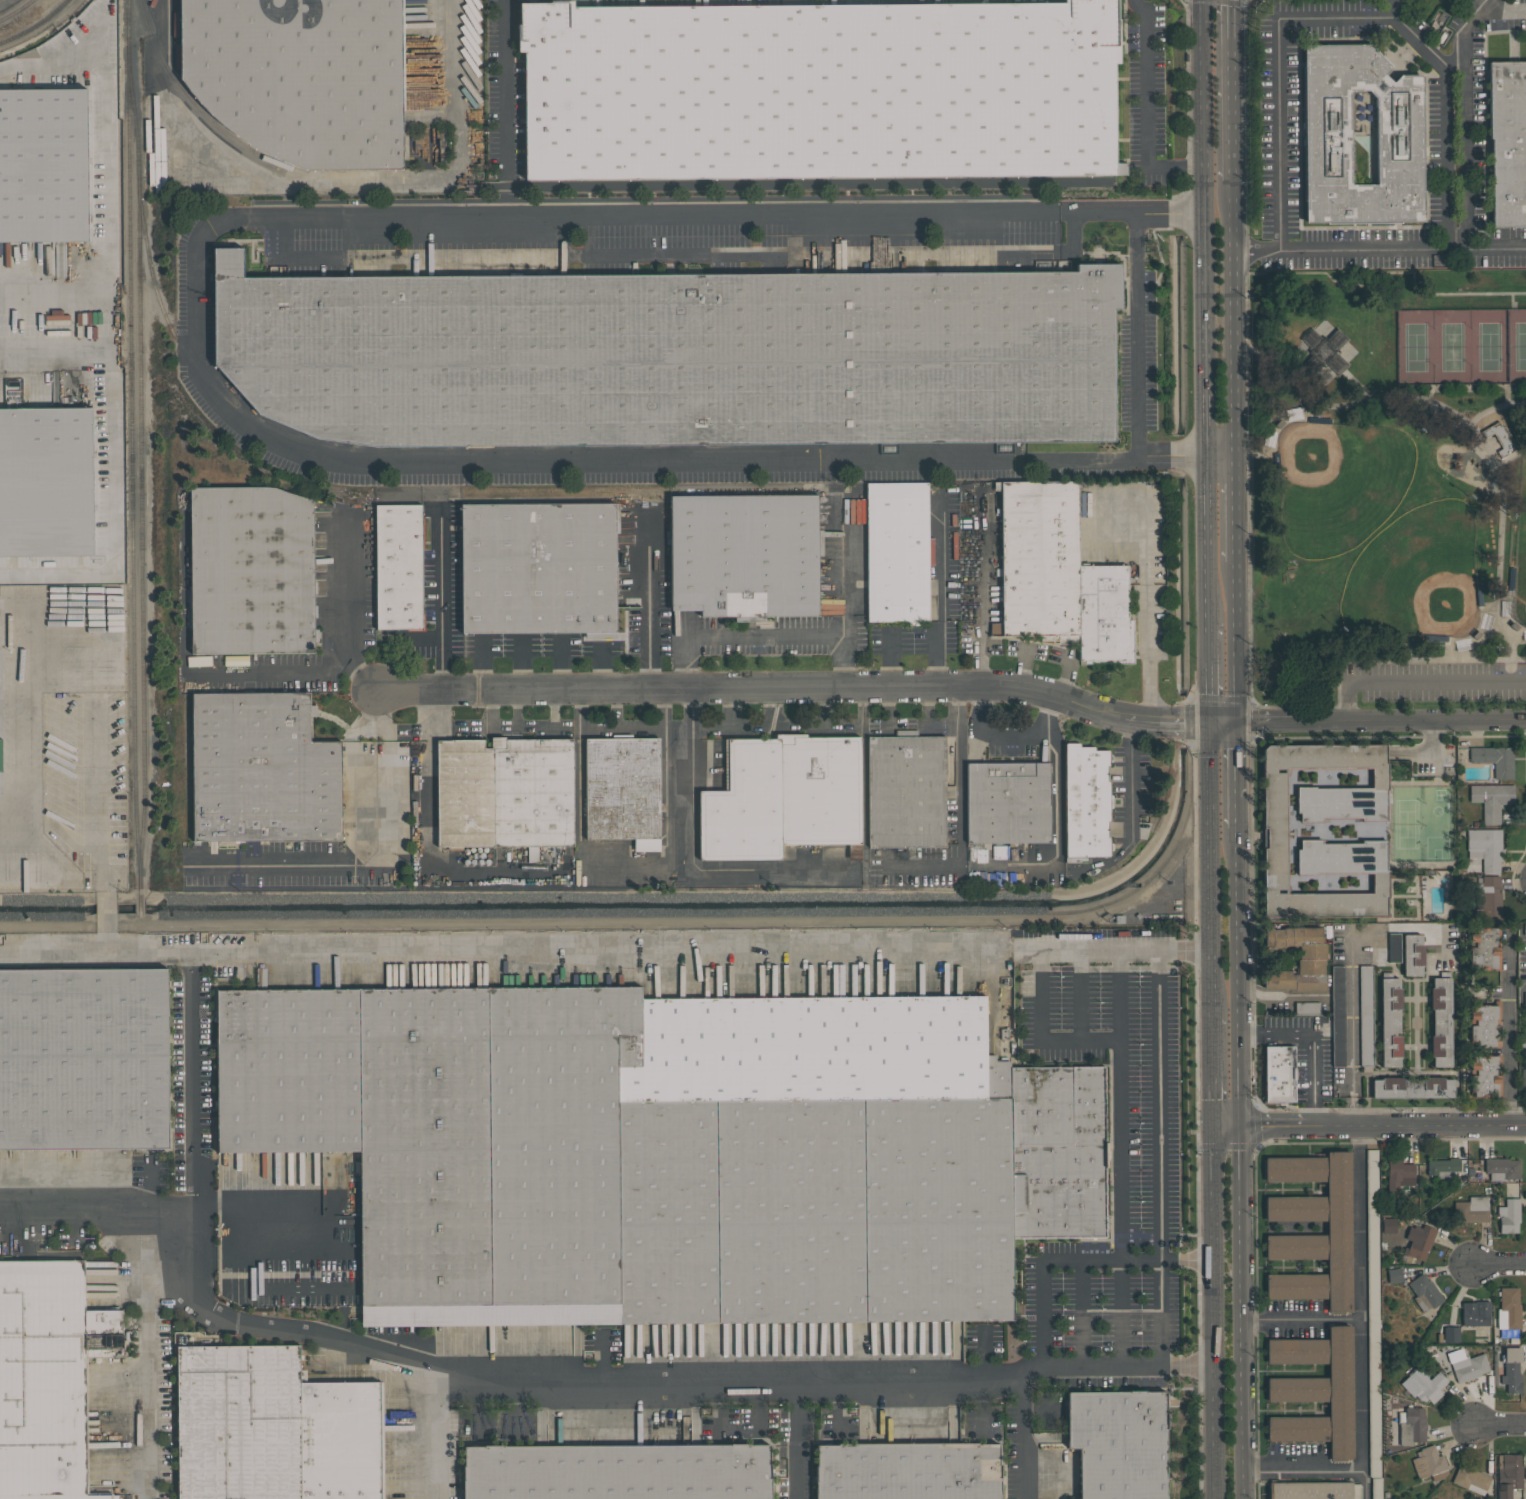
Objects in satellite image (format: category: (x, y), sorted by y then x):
road: (1490, 4)
road: (1393, 9)
railway: (18, 12)
railway: (37, 26)
railway: (176, 30)
railway: (48, 35)
road: (1436, 60)
road: (1451, 61)
building: (302, 77)
road: (451, 88)
building: (819, 90)
road: (1230, 91)
railway: (189, 101)
road: (1463, 101)
road: (505, 110)
road: (1145, 111)
building: (22, 116)
railway: (119, 139)
building: (1327, 141)
building: (1507, 142)
road: (1132, 213)
building: (25, 221)
road: (421, 222)
railway: (138, 228)
railway: (129, 240)
road: (1485, 246)
railway: (151, 259)
road: (1512, 294)
road: (56, 303)
road: (1206, 311)
road: (1232, 321)
road: (1137, 336)
road: (56, 346)
park: (1461, 346)
building: (1325, 351)
building: (672, 355)
road: (1471, 387)
road: (1507, 395)
road: (1301, 397)
road: (1431, 402)
building: (1500, 439)
building: (16, 442)
railway: (123, 446)
railway: (471, 453)
road: (1114, 460)
road: (1219, 460)
road: (732, 463)
road: (27, 468)
road: (55, 469)
park: (1386, 489)
building: (84, 494)
road: (1233, 511)
park: (1521, 526)
park: (1378, 527)
road: (44, 539)
building: (897, 552)
building: (744, 555)
road: (940, 557)
building: (398, 567)
building: (538, 567)
building: (250, 571)
building: (1058, 576)
road: (846, 584)
road: (982, 591)
road: (441, 596)
road: (646, 600)
building: (108, 601)
road: (1249, 608)
road: (337, 613)
road: (1148, 618)
building: (110, 632)
road: (767, 635)
road: (1234, 643)
road: (537, 644)
road: (460, 647)
railway: (144, 650)
road: (940, 656)
road: (1511, 658)
road: (888, 660)
road: (514, 667)
road: (562, 667)
road: (1023, 670)
road: (270, 671)
road: (1204, 674)
road: (1062, 678)
road: (1417, 681)
railway: (135, 684)
road: (955, 691)
road: (428, 708)
road: (729, 709)
road: (772, 709)
road: (821, 709)
road: (863, 709)
road: (887, 710)
road: (926, 711)
road: (515, 721)
road: (551, 724)
road: (476, 726)
road: (398, 727)
road: (597, 729)
road: (621, 729)
road: (1012, 738)
road: (1432, 753)
building: (1494, 760)
road: (1235, 761)
road: (101, 769)
building: (262, 769)
road: (26, 774)
building: (622, 790)
building: (906, 790)
road: (1129, 791)
building: (505, 793)
building: (783, 797)
building: (1491, 800)
building: (1086, 801)
building: (1007, 802)
road: (960, 806)
road: (1056, 810)
road: (1235, 813)
building: (1276, 833)
road: (14, 839)
building: (1485, 847)
building: (1000, 851)
road: (692, 856)
road: (627, 858)
road: (429, 862)
road: (373, 865)
road: (1208, 868)
building: (1490, 897)
road: (108, 918)
road: (616, 949)
road: (1125, 949)
building: (1485, 949)
road: (95, 950)
building: (1412, 955)
building: (1298, 959)
road: (1080, 995)
road: (1280, 996)
building: (1525, 999)
building: (1307, 1007)
building: (1338, 1015)
building: (1365, 1015)
building: (1441, 1020)
building: (1390, 1021)
building: (1484, 1025)
road: (1352, 1029)
road: (1509, 1031)
road: (1041, 1035)
road: (1312, 1042)
building: (84, 1059)
road: (1211, 1070)
building: (1278, 1074)
building: (1485, 1076)
building: (1523, 1078)
road: (193, 1082)
building: (1412, 1087)
road: (1368, 1126)
building: (668, 1150)
road: (1120, 1155)
road: (1236, 1163)
building: (1443, 1167)
building: (1501, 1168)
building: (1399, 1175)
building: (1471, 1210)
road: (1160, 1214)
building: (1509, 1215)
building: (1388, 1225)
building: (1338, 1227)
building: (1418, 1242)
road: (1499, 1264)
building: (1394, 1275)
building: (1425, 1293)
road: (1361, 1297)
road: (1041, 1298)
building: (1372, 1299)
building: (1509, 1308)
road: (1082, 1311)
road: (1213, 1313)
building: (1475, 1313)
road: (1299, 1318)
building: (1451, 1334)
building: (197, 1339)
road: (149, 1356)
road: (1187, 1361)
building: (1467, 1365)
road: (463, 1369)
building: (1511, 1370)
building: (49, 1376)
building: (1423, 1385)
building: (1315, 1390)
road: (1500, 1425)
building: (1411, 1426)
building: (272, 1427)
road: (437, 1432)
road: (796, 1441)
building: (1119, 1443)
building: (1429, 1463)
road: (1300, 1469)
building: (616, 1471)
building: (907, 1471)
building: (1508, 1474)
building: (1471, 1479)
road: (1367, 1483)
building: (1310, 1490)

